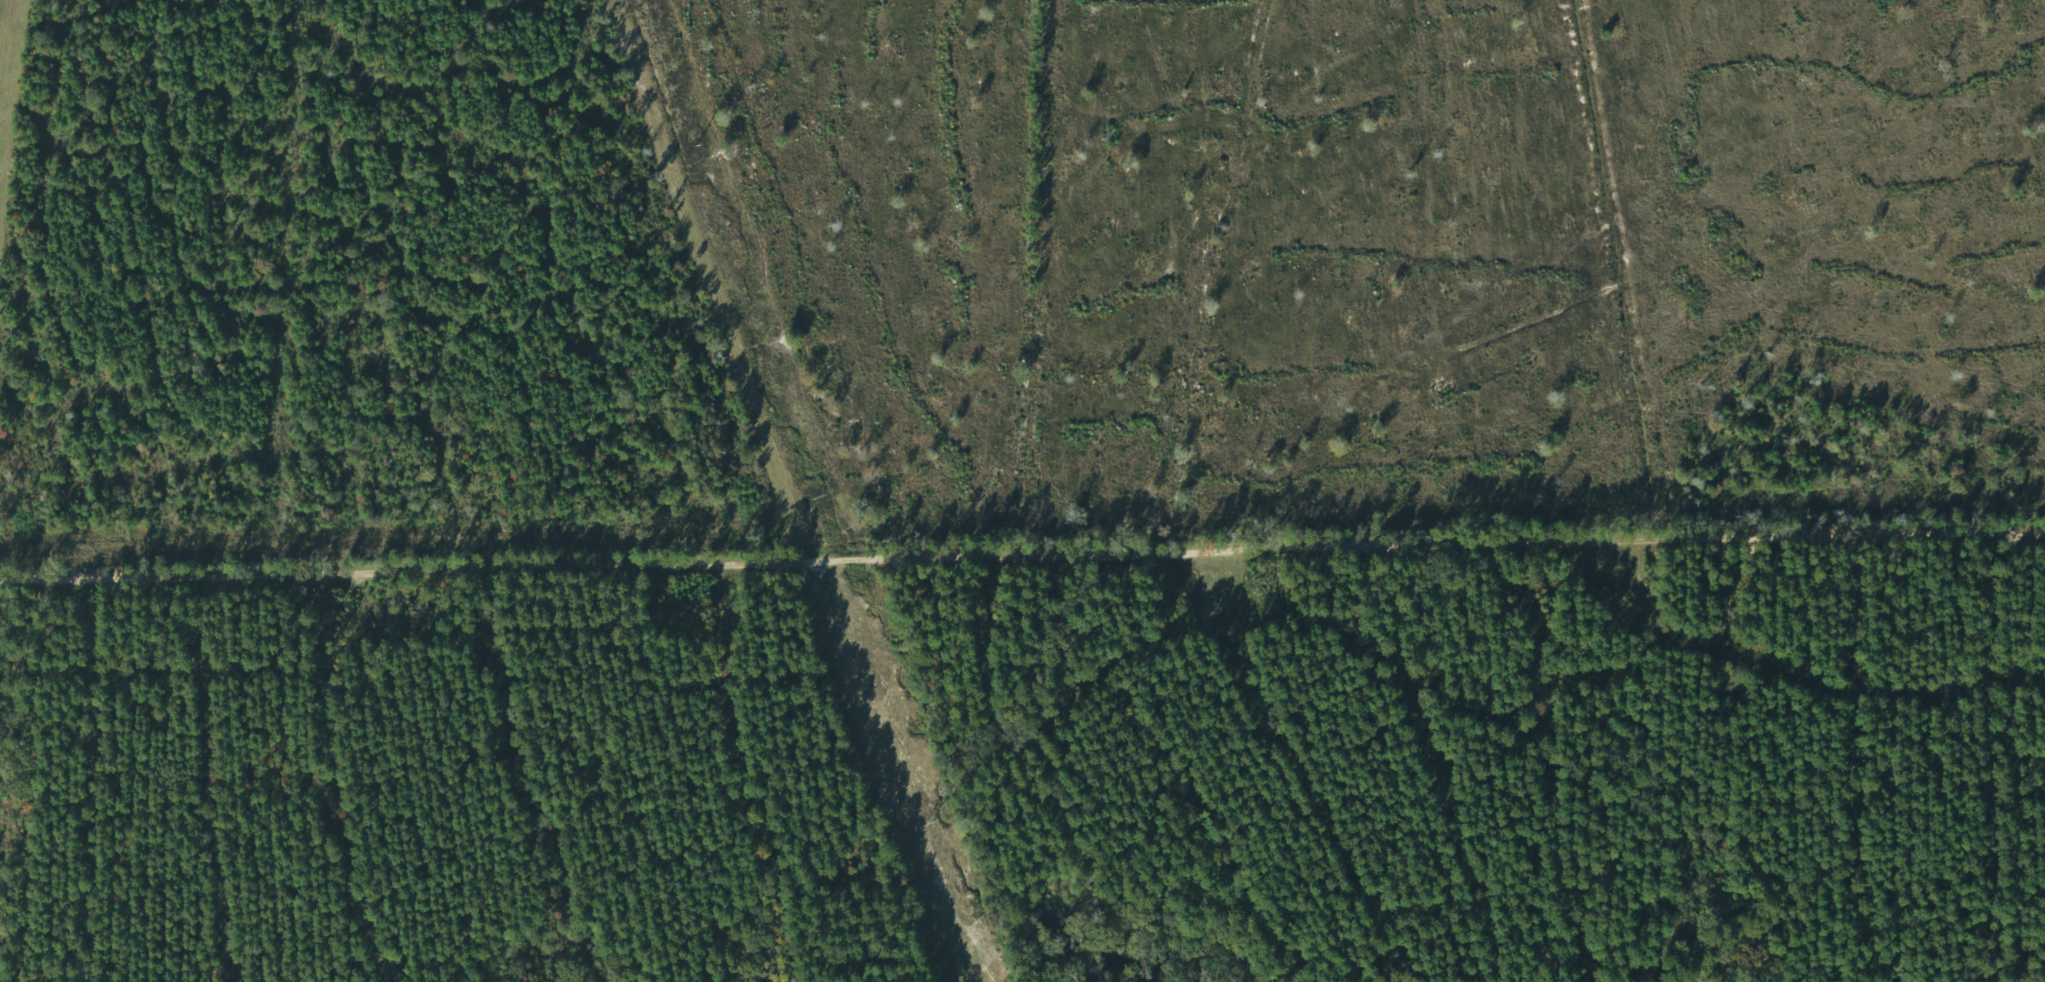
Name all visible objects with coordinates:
power tower: (696, 147)
road: (703, 283)
power tower: (818, 498)
road: (1023, 546)
power tower: (931, 822)

